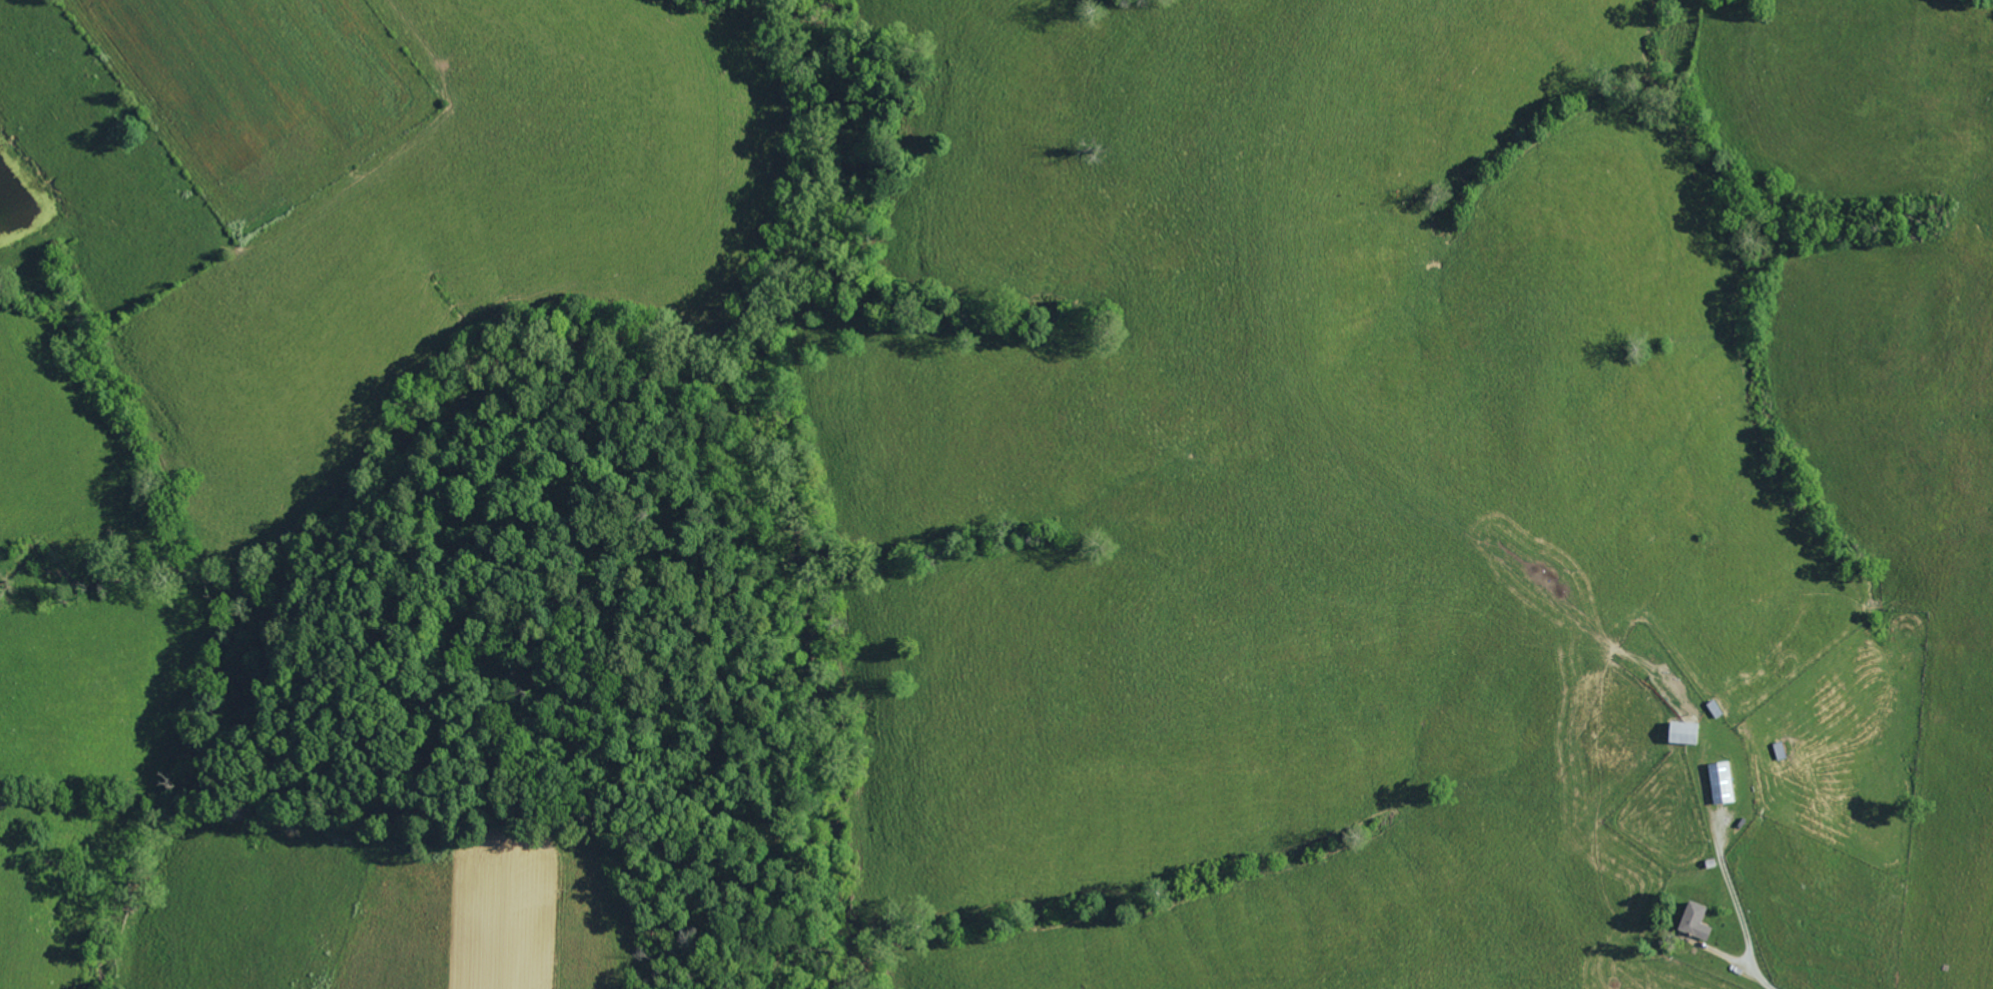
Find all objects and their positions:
building: (1681, 732)
road: (1719, 788)
building: (1691, 920)
road: (1703, 950)
road: (1989, 968)

